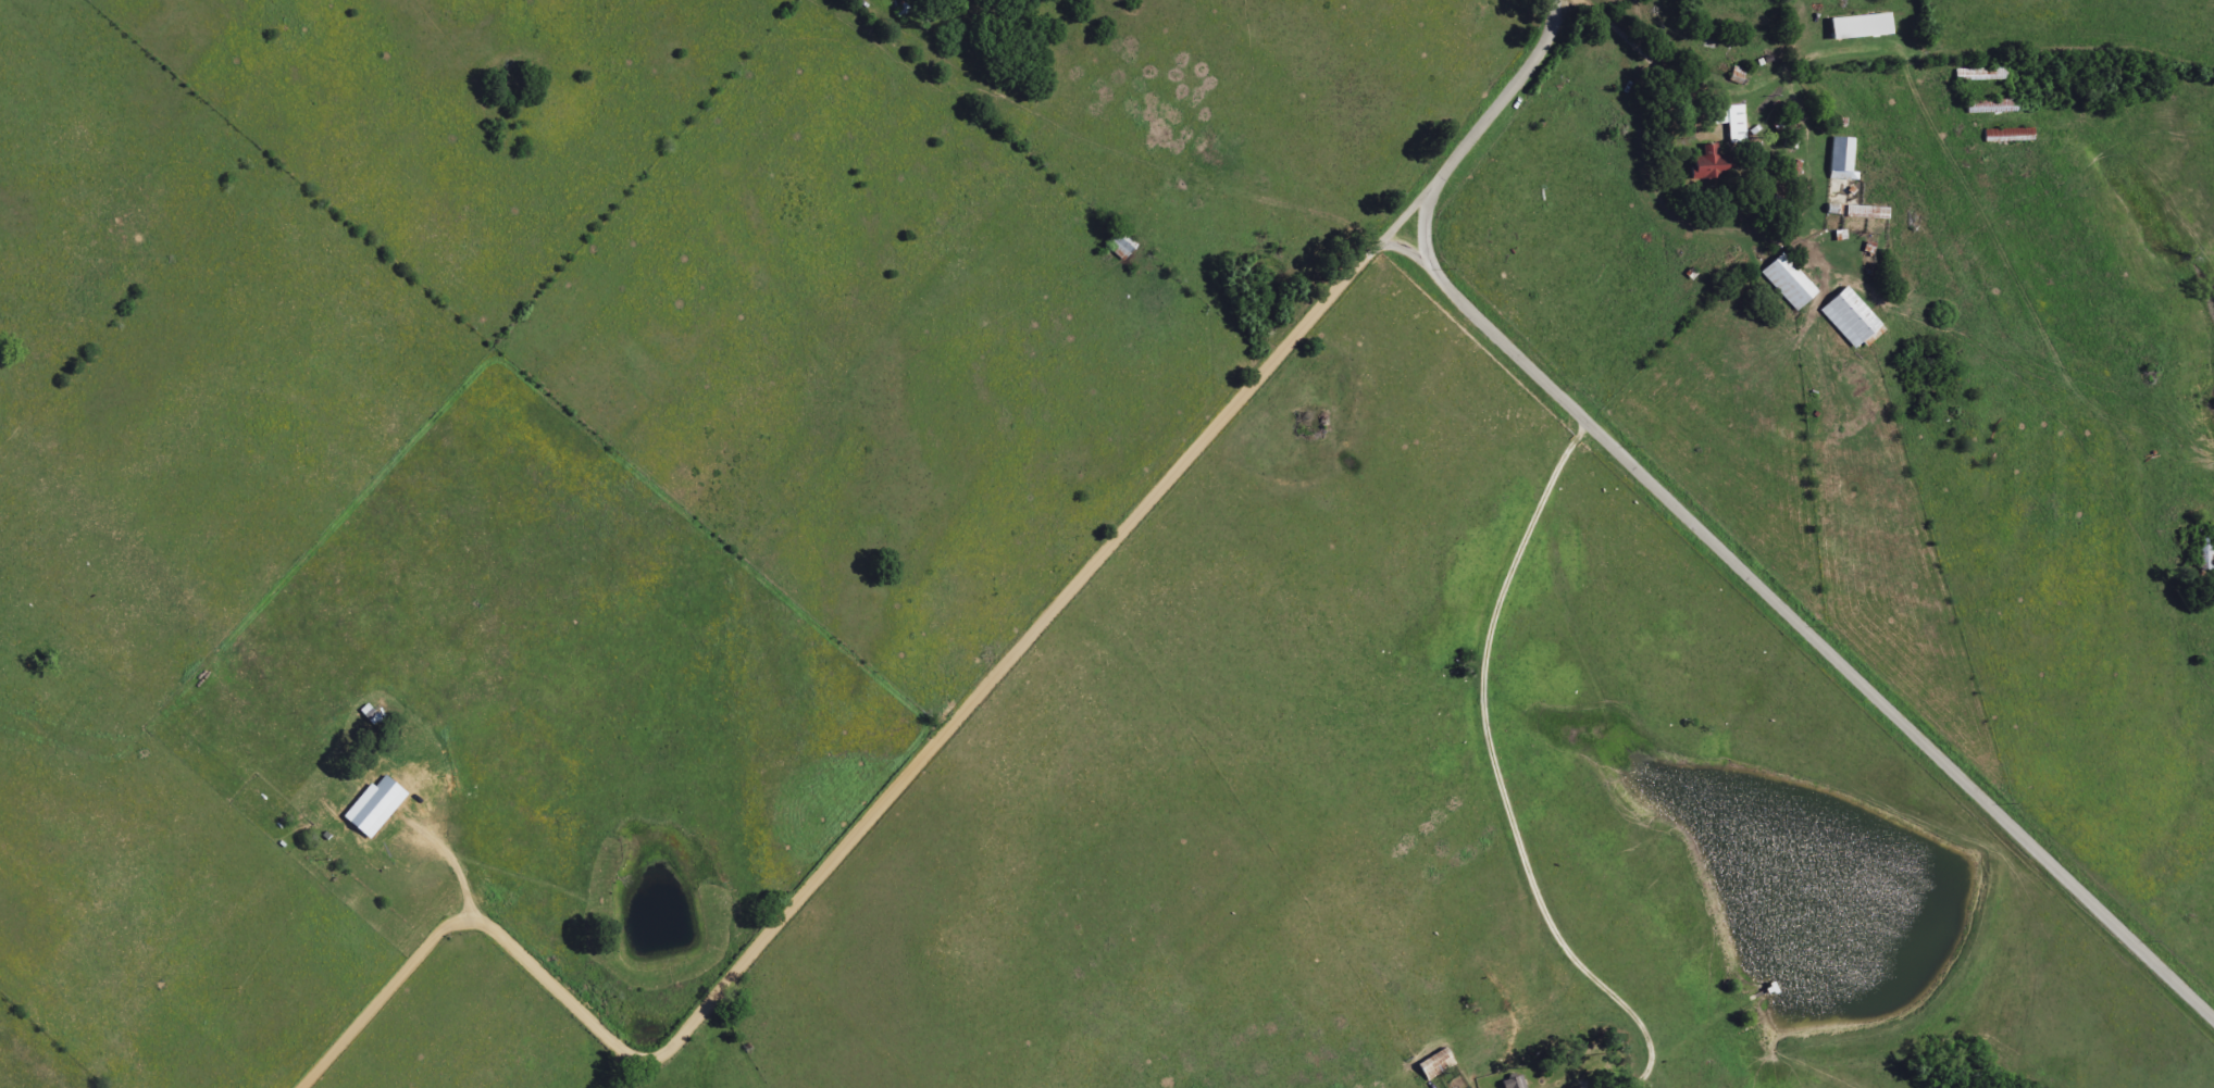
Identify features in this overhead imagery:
building: (1859, 26)
road: (1484, 114)
building: (1736, 124)
road: (1589, 125)
building: (1841, 160)
building: (1711, 163)
building: (1788, 282)
building: (1849, 317)
building: (2206, 555)
road: (1800, 627)
building: (374, 808)
road: (873, 821)
building: (1435, 1065)
building: (1514, 1083)

